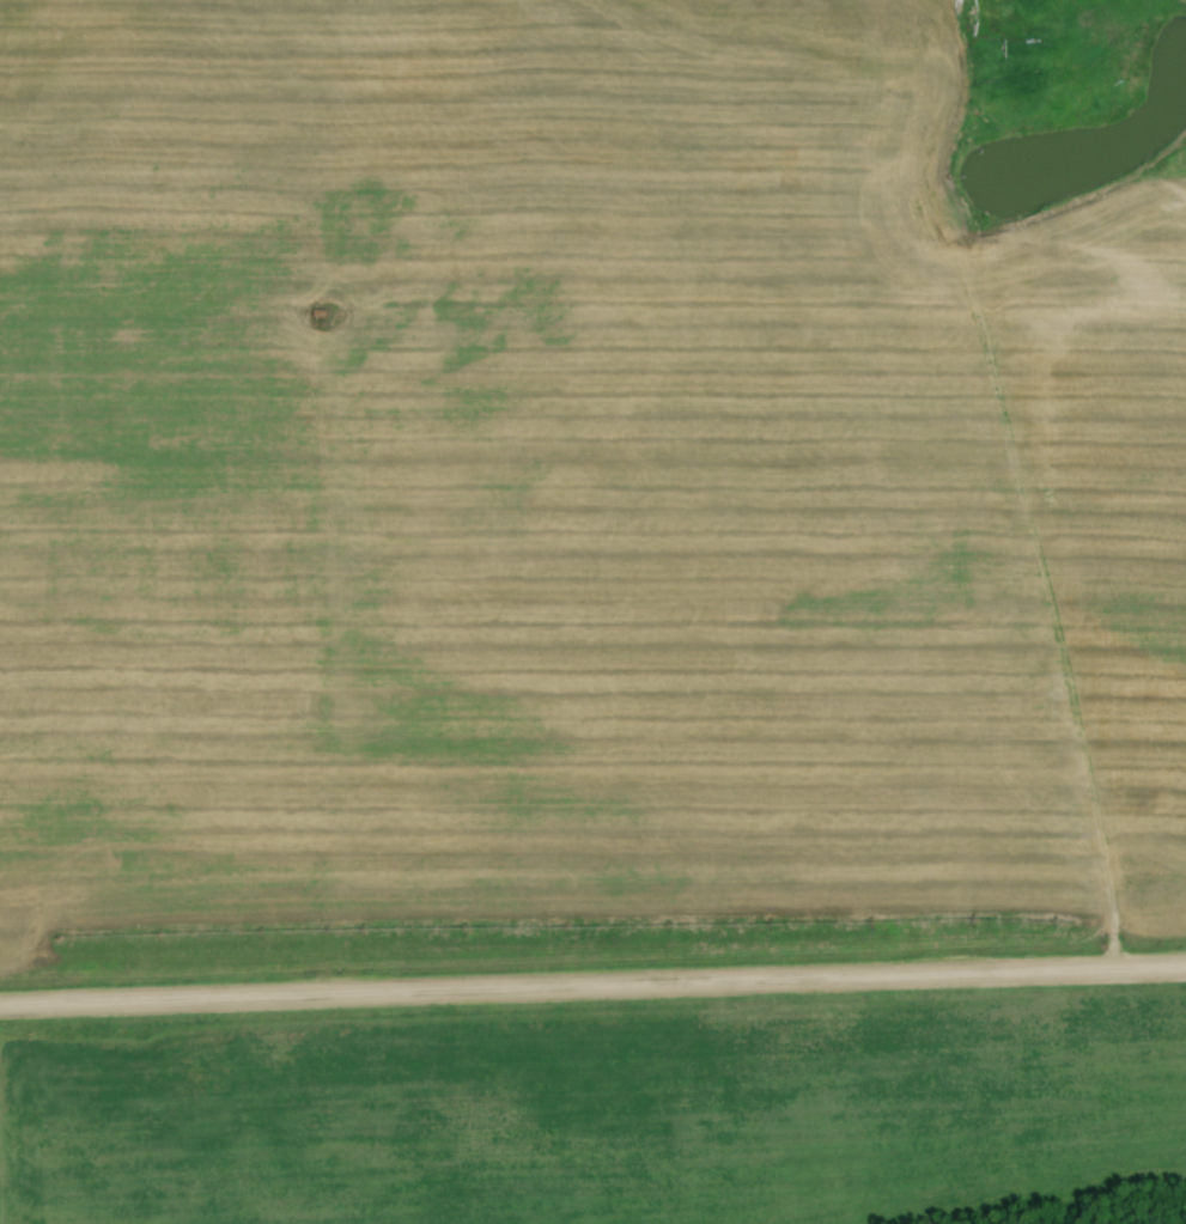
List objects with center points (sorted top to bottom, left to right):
building: (984, 55)
crop: (565, 495)
road: (592, 988)

